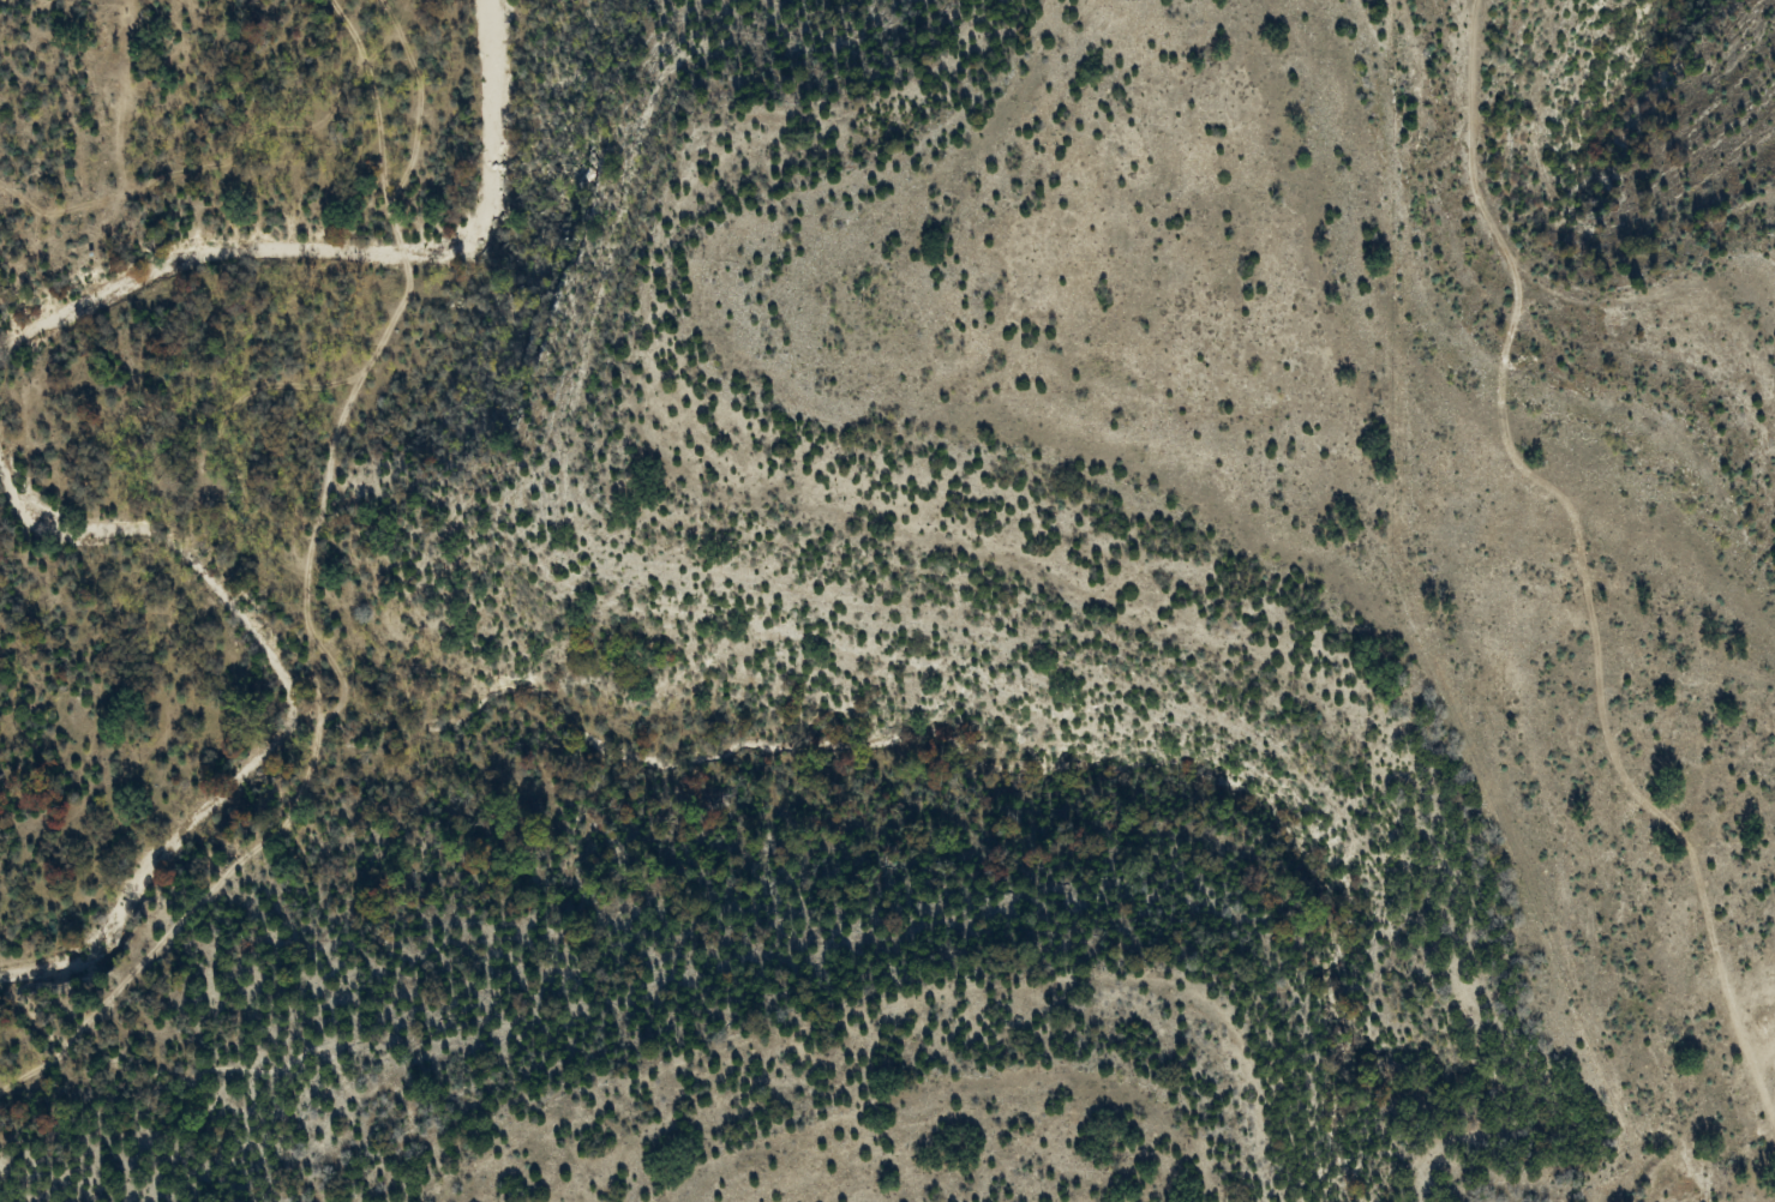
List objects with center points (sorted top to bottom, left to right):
road: (313, 601)

